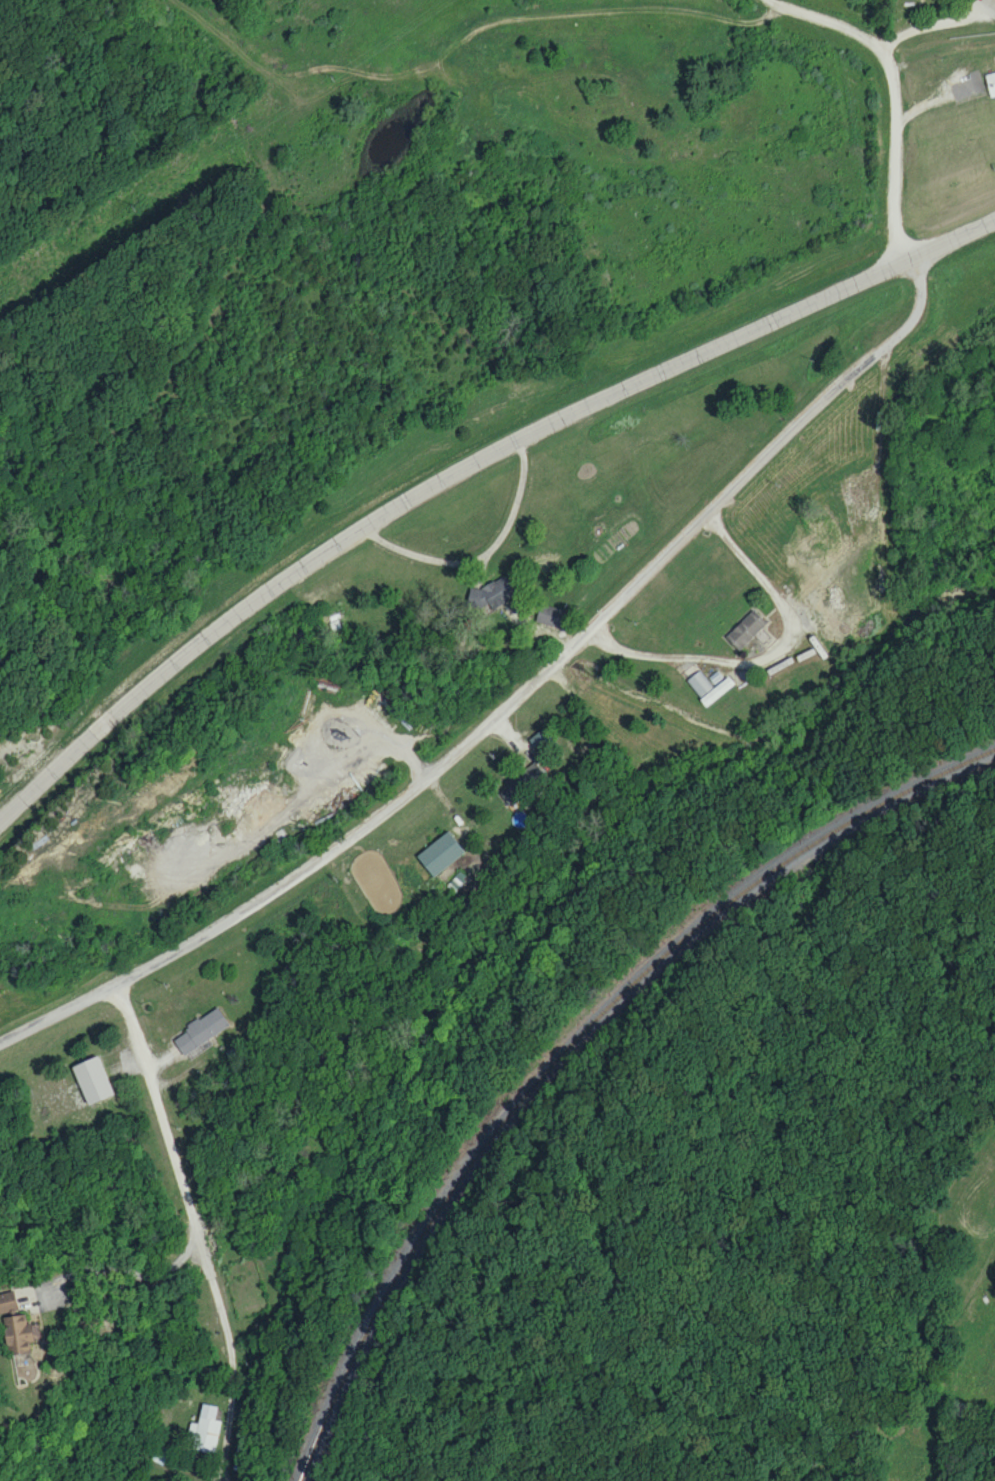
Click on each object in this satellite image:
road: (608, 10)
road: (935, 24)
building: (990, 83)
road: (899, 91)
road: (929, 137)
road: (885, 420)
road: (465, 470)
road: (484, 556)
building: (491, 592)
building: (549, 615)
building: (745, 629)
road: (776, 662)
building: (707, 687)
road: (513, 700)
road: (371, 741)
building: (541, 741)
building: (522, 782)
road: (263, 813)
building: (439, 853)
building: (199, 1031)
railway: (571, 1042)
building: (91, 1079)
road: (193, 1230)
road: (973, 1295)
building: (8, 1301)
building: (18, 1333)
building: (204, 1430)

